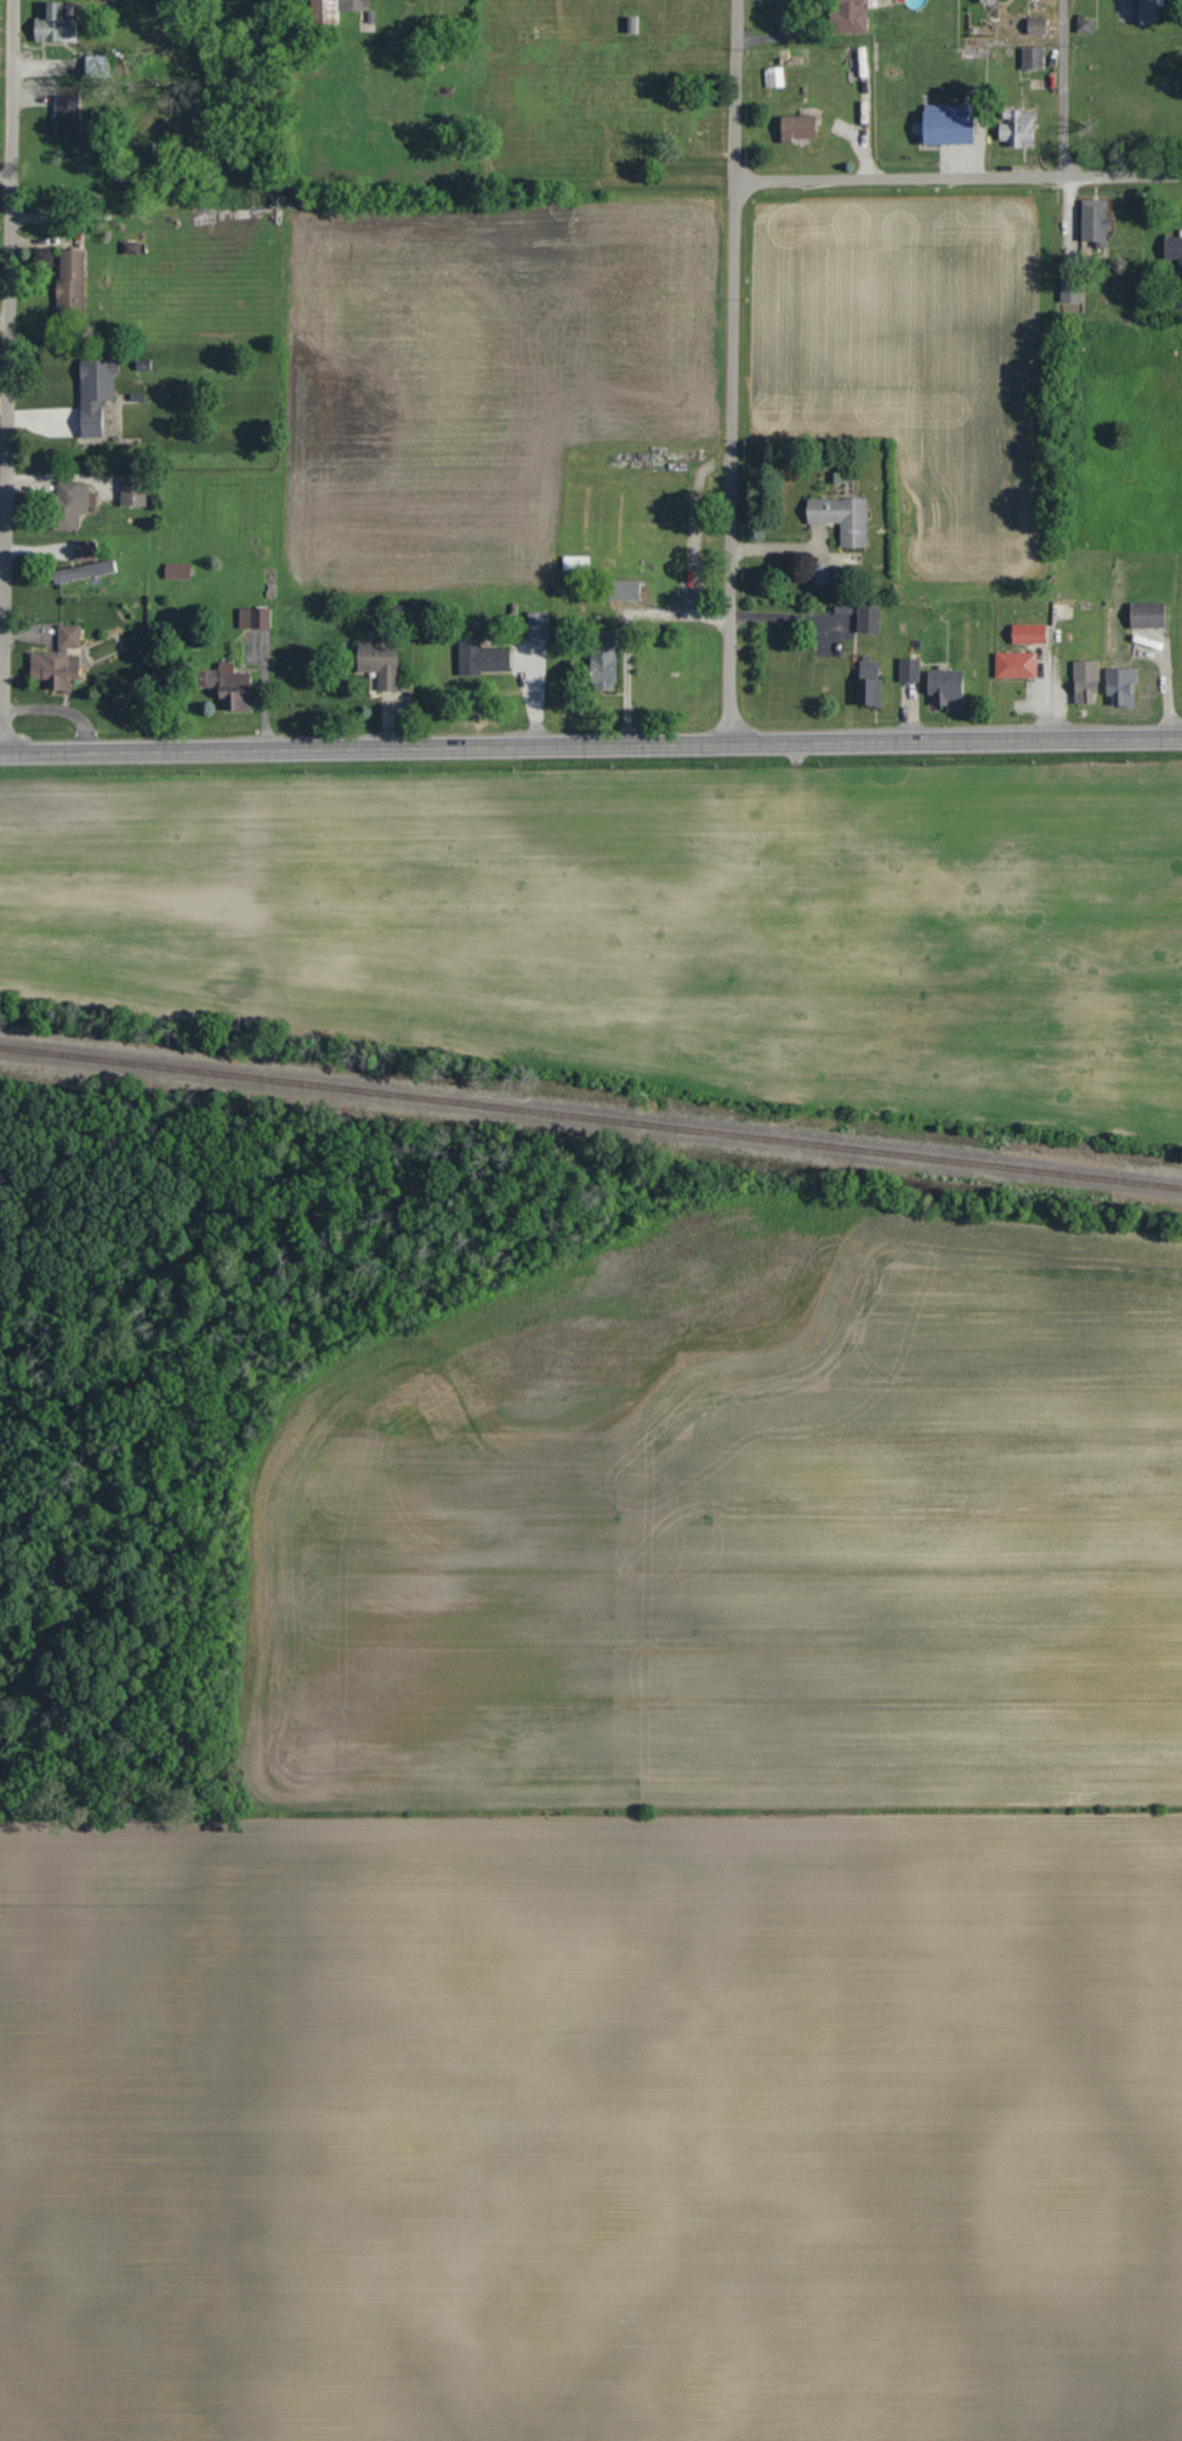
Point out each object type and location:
building: (779, 2)
building: (334, 10)
building: (1148, 11)
building: (847, 16)
building: (55, 25)
building: (632, 25)
building: (1036, 25)
building: (1033, 58)
road: (1064, 87)
building: (67, 115)
building: (797, 127)
building: (948, 127)
building: (1017, 127)
road: (957, 176)
building: (1093, 223)
building: (1174, 248)
building: (70, 284)
building: (1070, 291)
road: (734, 367)
road: (13, 374)
building: (95, 394)
building: (133, 492)
building: (67, 506)
building: (841, 518)
building: (80, 564)
building: (624, 591)
building: (1147, 615)
building: (255, 619)
building: (868, 620)
building: (538, 625)
building: (1029, 635)
building: (381, 659)
building: (482, 659)
building: (603, 660)
building: (58, 663)
building: (1015, 665)
building: (909, 670)
building: (869, 681)
building: (1085, 682)
building: (1120, 687)
building: (231, 688)
building: (945, 689)
road: (590, 738)
railway: (591, 1117)

